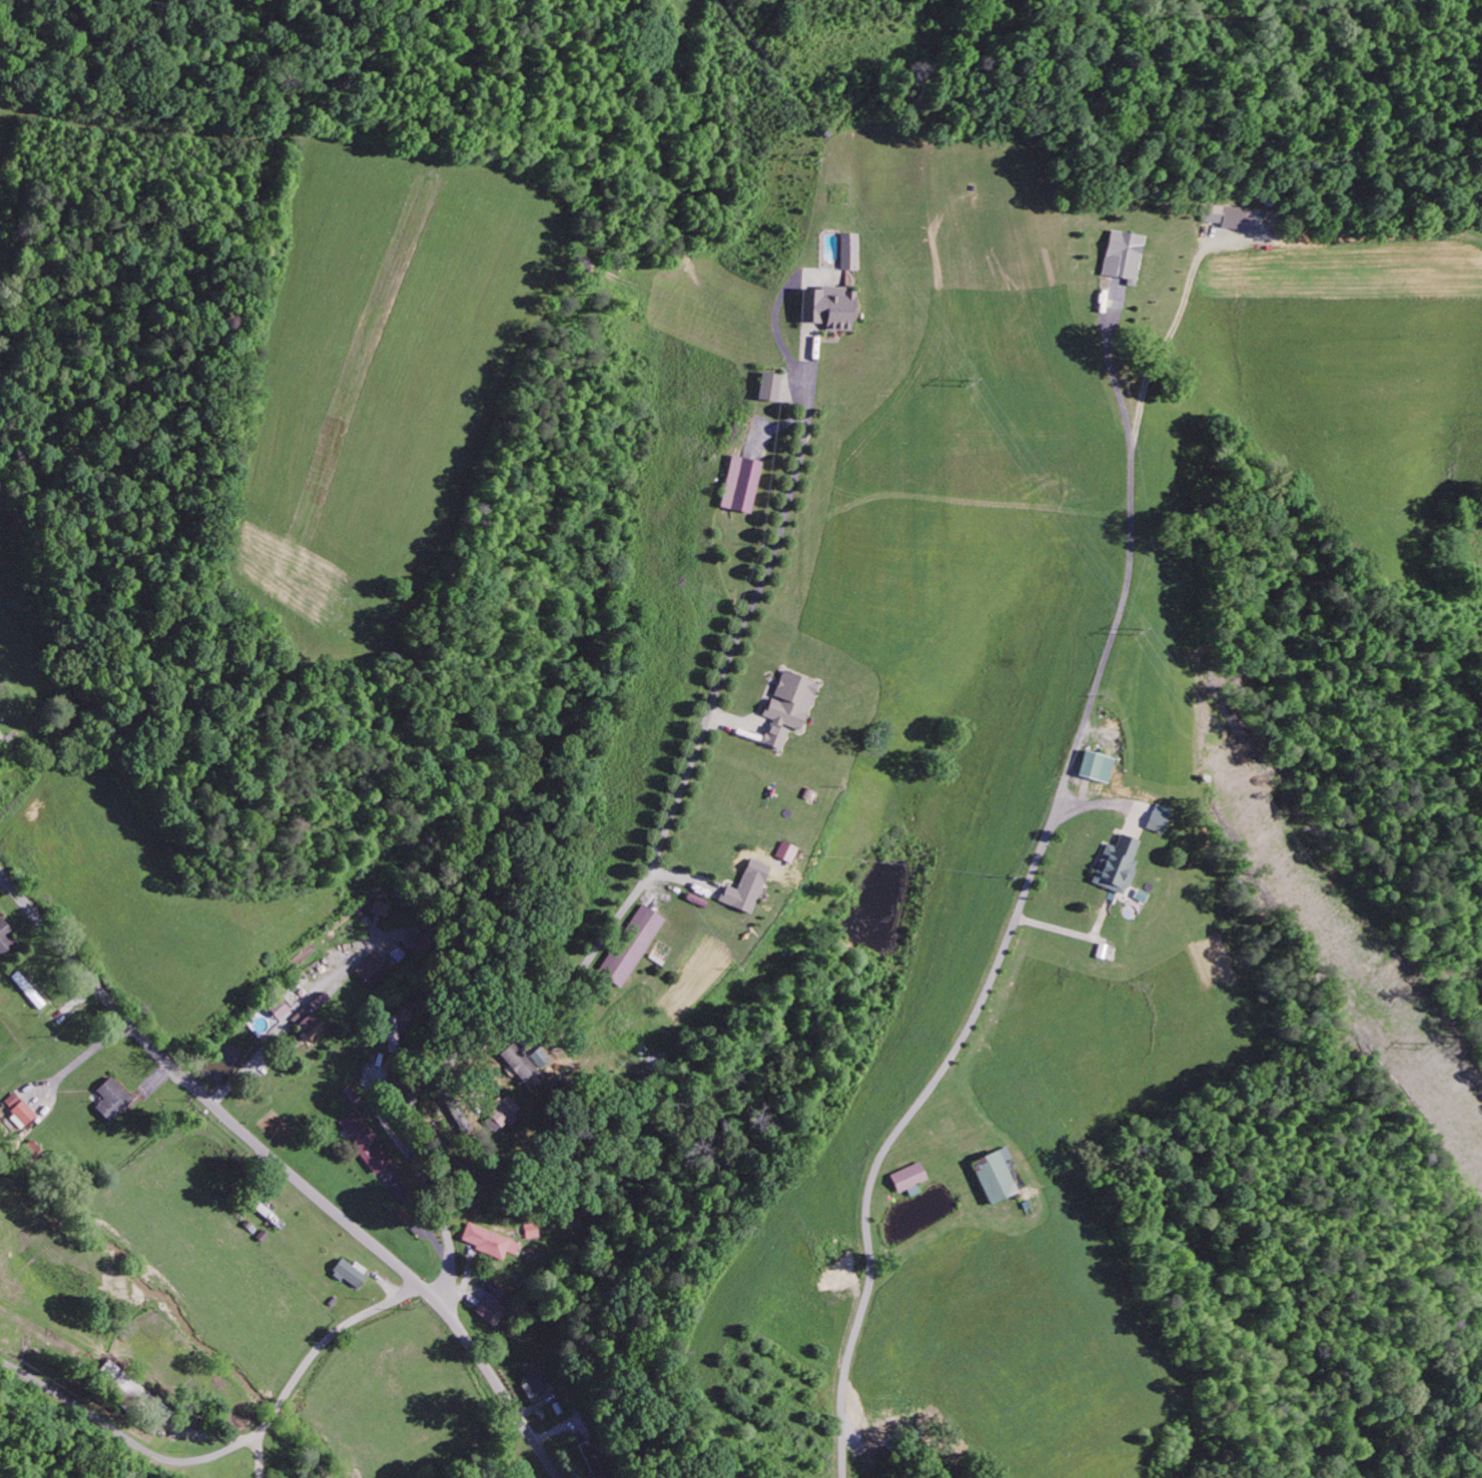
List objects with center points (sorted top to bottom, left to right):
building: (1231, 221)
building: (848, 251)
building: (1122, 259)
building: (827, 308)
building: (768, 385)
building: (740, 483)
building: (787, 706)
building: (1096, 769)
building: (1158, 821)
building: (1117, 868)
building: (742, 892)
building: (5, 935)
building: (631, 945)
building: (374, 970)
building: (29, 989)
building: (277, 1008)
building: (308, 1024)
building: (527, 1065)
building: (112, 1100)
building: (18, 1109)
building: (501, 1112)
road: (410, 1136)
building: (365, 1141)
road: (286, 1170)
building: (997, 1174)
building: (909, 1176)
building: (489, 1241)
building: (349, 1273)
building: (536, 1384)
building: (136, 1395)
road: (840, 1449)

